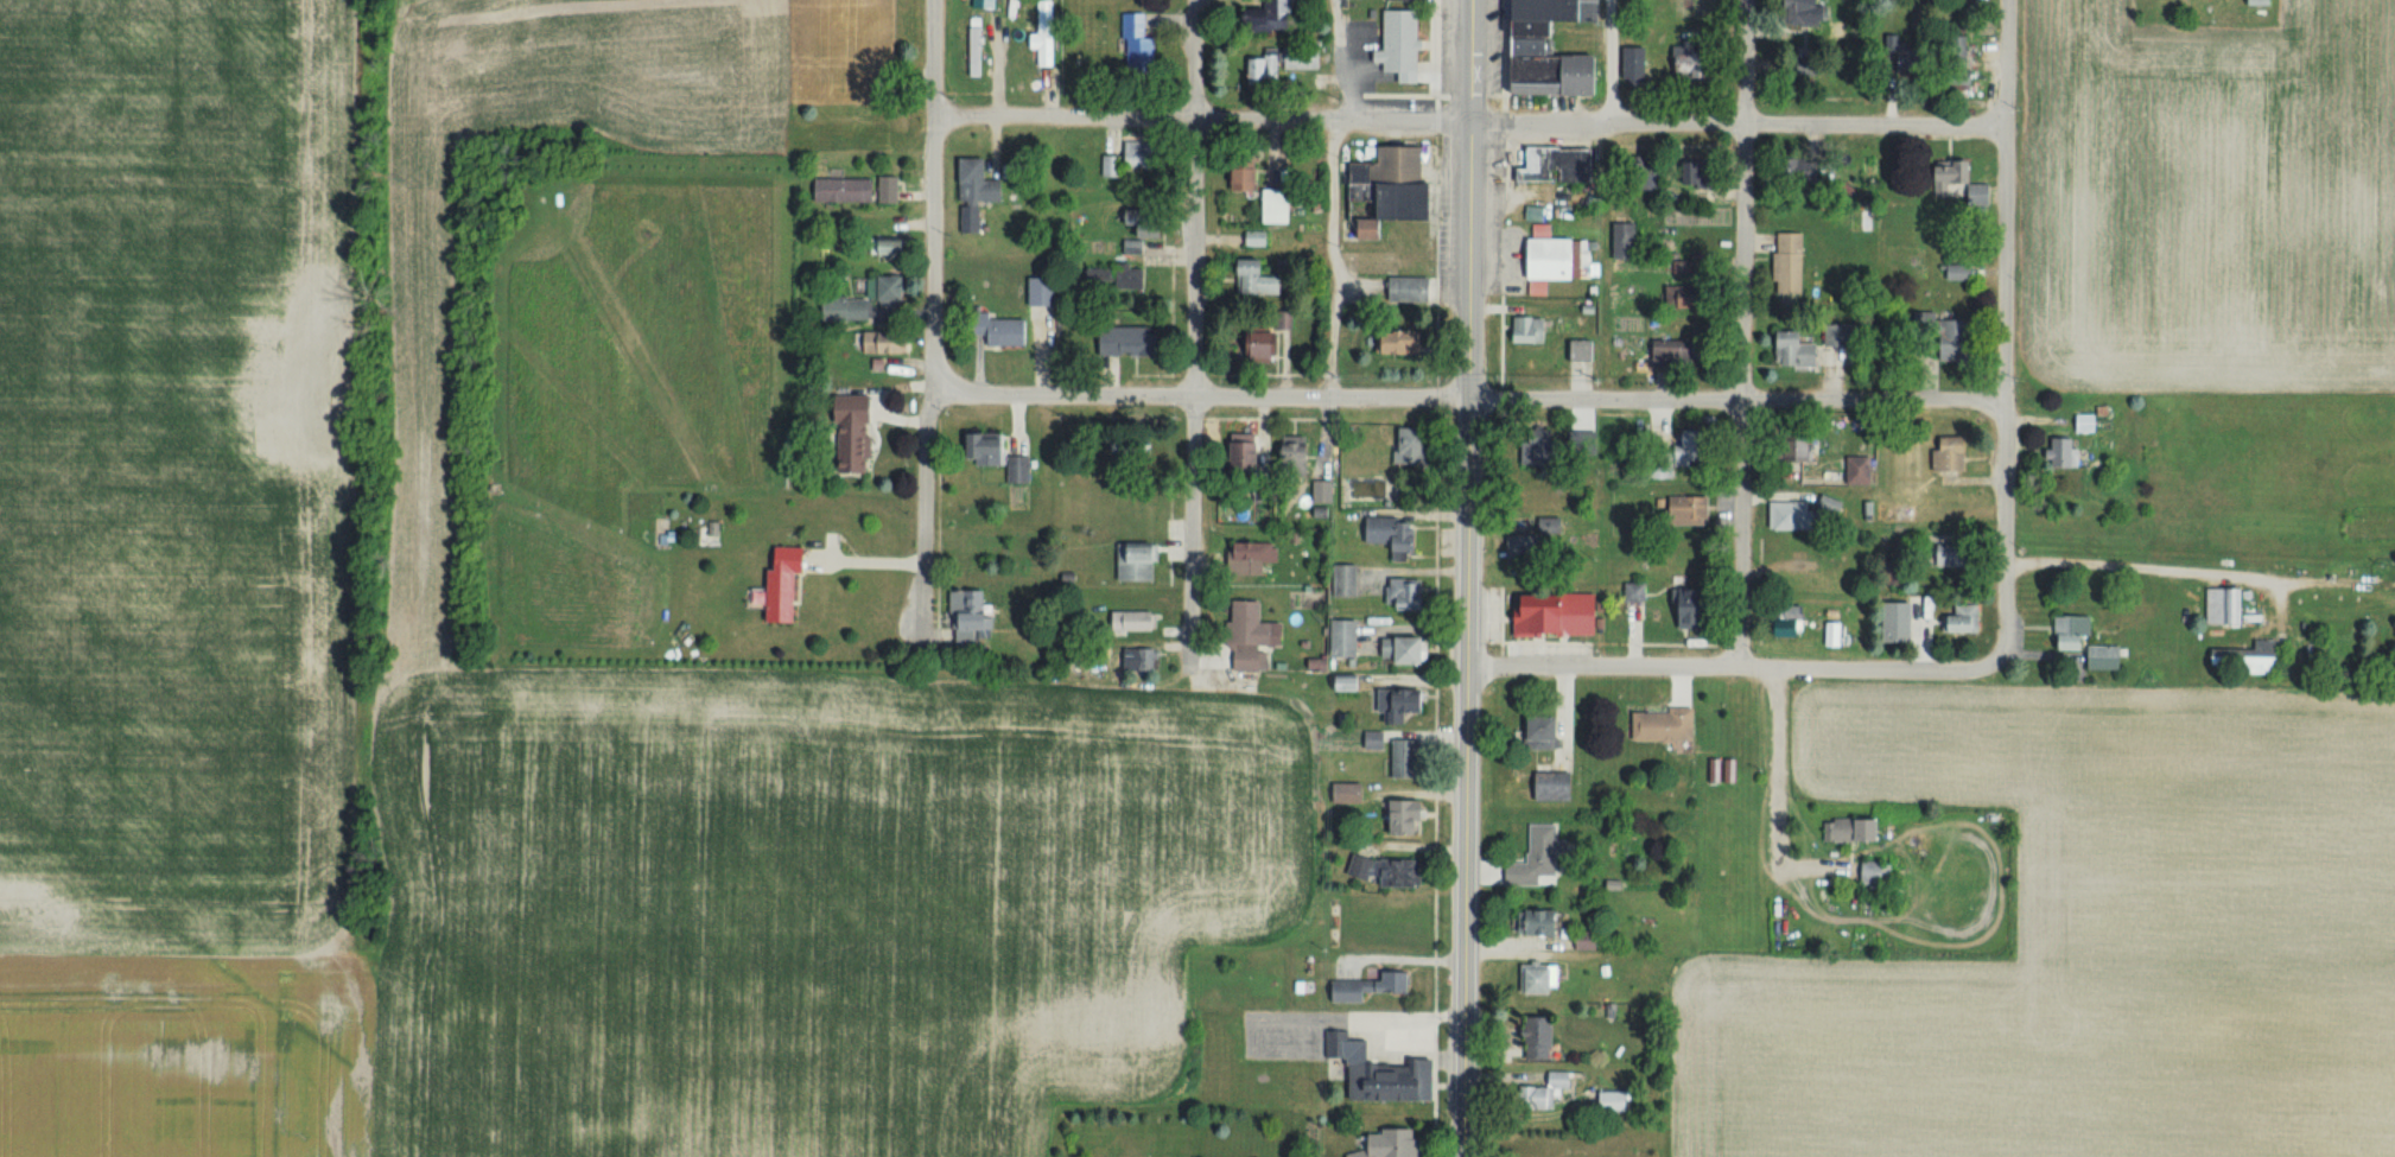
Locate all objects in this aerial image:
building: (1417, 0)
building: (2249, 1)
building: (986, 2)
building: (1555, 9)
building: (1815, 12)
building: (1271, 17)
building: (1538, 27)
building: (1138, 39)
building: (1404, 43)
building: (1532, 45)
building: (977, 51)
building: (1031, 57)
road: (932, 61)
road: (1193, 61)
road: (1468, 62)
road: (1609, 63)
building: (1637, 63)
building: (1698, 63)
road: (1742, 63)
building: (1284, 64)
building: (1918, 64)
road: (2006, 65)
building: (1556, 74)
building: (892, 114)
road: (1200, 122)
road: (1736, 126)
building: (1143, 154)
building: (1561, 164)
building: (1113, 165)
building: (1399, 165)
building: (1812, 169)
building: (1251, 171)
building: (1704, 173)
building: (859, 190)
building: (977, 191)
road: (1329, 199)
building: (1415, 201)
building: (1281, 206)
building: (1149, 223)
building: (1373, 227)
building: (1259, 237)
building: (896, 247)
building: (1139, 247)
building: (1556, 260)
building: (1792, 263)
building: (1627, 269)
building: (1963, 272)
building: (1120, 276)
building: (1262, 278)
building: (889, 287)
building: (1411, 288)
building: (1044, 292)
building: (1681, 292)
building: (847, 310)
building: (1530, 330)
building: (1005, 331)
building: (1952, 336)
building: (1130, 342)
building: (898, 343)
building: (1269, 343)
building: (1404, 343)
building: (1802, 348)
building: (1582, 350)
building: (1665, 351)
road: (927, 393)
road: (1189, 396)
road: (1199, 396)
road: (1740, 396)
road: (2003, 399)
road: (1736, 401)
building: (2090, 422)
building: (855, 436)
building: (1416, 441)
building: (1584, 441)
building: (1695, 445)
building: (1806, 446)
building: (1133, 450)
building: (1250, 452)
building: (1300, 452)
building: (2067, 452)
building: (1538, 453)
building: (998, 454)
building: (1955, 456)
building: (1862, 471)
building: (1408, 487)
building: (1324, 492)
building: (1691, 508)
building: (1806, 513)
building: (1555, 526)
building: (1384, 530)
building: (1526, 549)
road: (859, 552)
building: (1254, 558)
road: (2133, 558)
building: (1138, 562)
building: (769, 577)
building: (1347, 580)
building: (788, 584)
building: (1635, 591)
building: (1411, 593)
building: (1696, 600)
building: (2217, 606)
building: (974, 610)
building: (1558, 616)
building: (1965, 619)
building: (1136, 621)
building: (1904, 623)
building: (1792, 625)
building: (2077, 627)
building: (1253, 635)
building: (1347, 637)
road: (1468, 640)
building: (1406, 651)
building: (2108, 657)
building: (1143, 659)
building: (2237, 660)
building: (1317, 661)
road: (1734, 666)
building: (1352, 681)
building: (1400, 703)
building: (1736, 717)
building: (1667, 725)
building: (1546, 732)
building: (1378, 739)
building: (1406, 758)
road: (1774, 776)
building: (1558, 786)
building: (1351, 793)
building: (1412, 816)
building: (1856, 829)
building: (1540, 858)
building: (1391, 871)
building: (1878, 876)
building: (1548, 922)
building: (1592, 940)
road: (1403, 955)
building: (1544, 979)
building: (1373, 985)
building: (1304, 986)
building: (1543, 1038)
building: (1379, 1072)
building: (1548, 1092)
building: (1618, 1100)
building: (1398, 1146)

